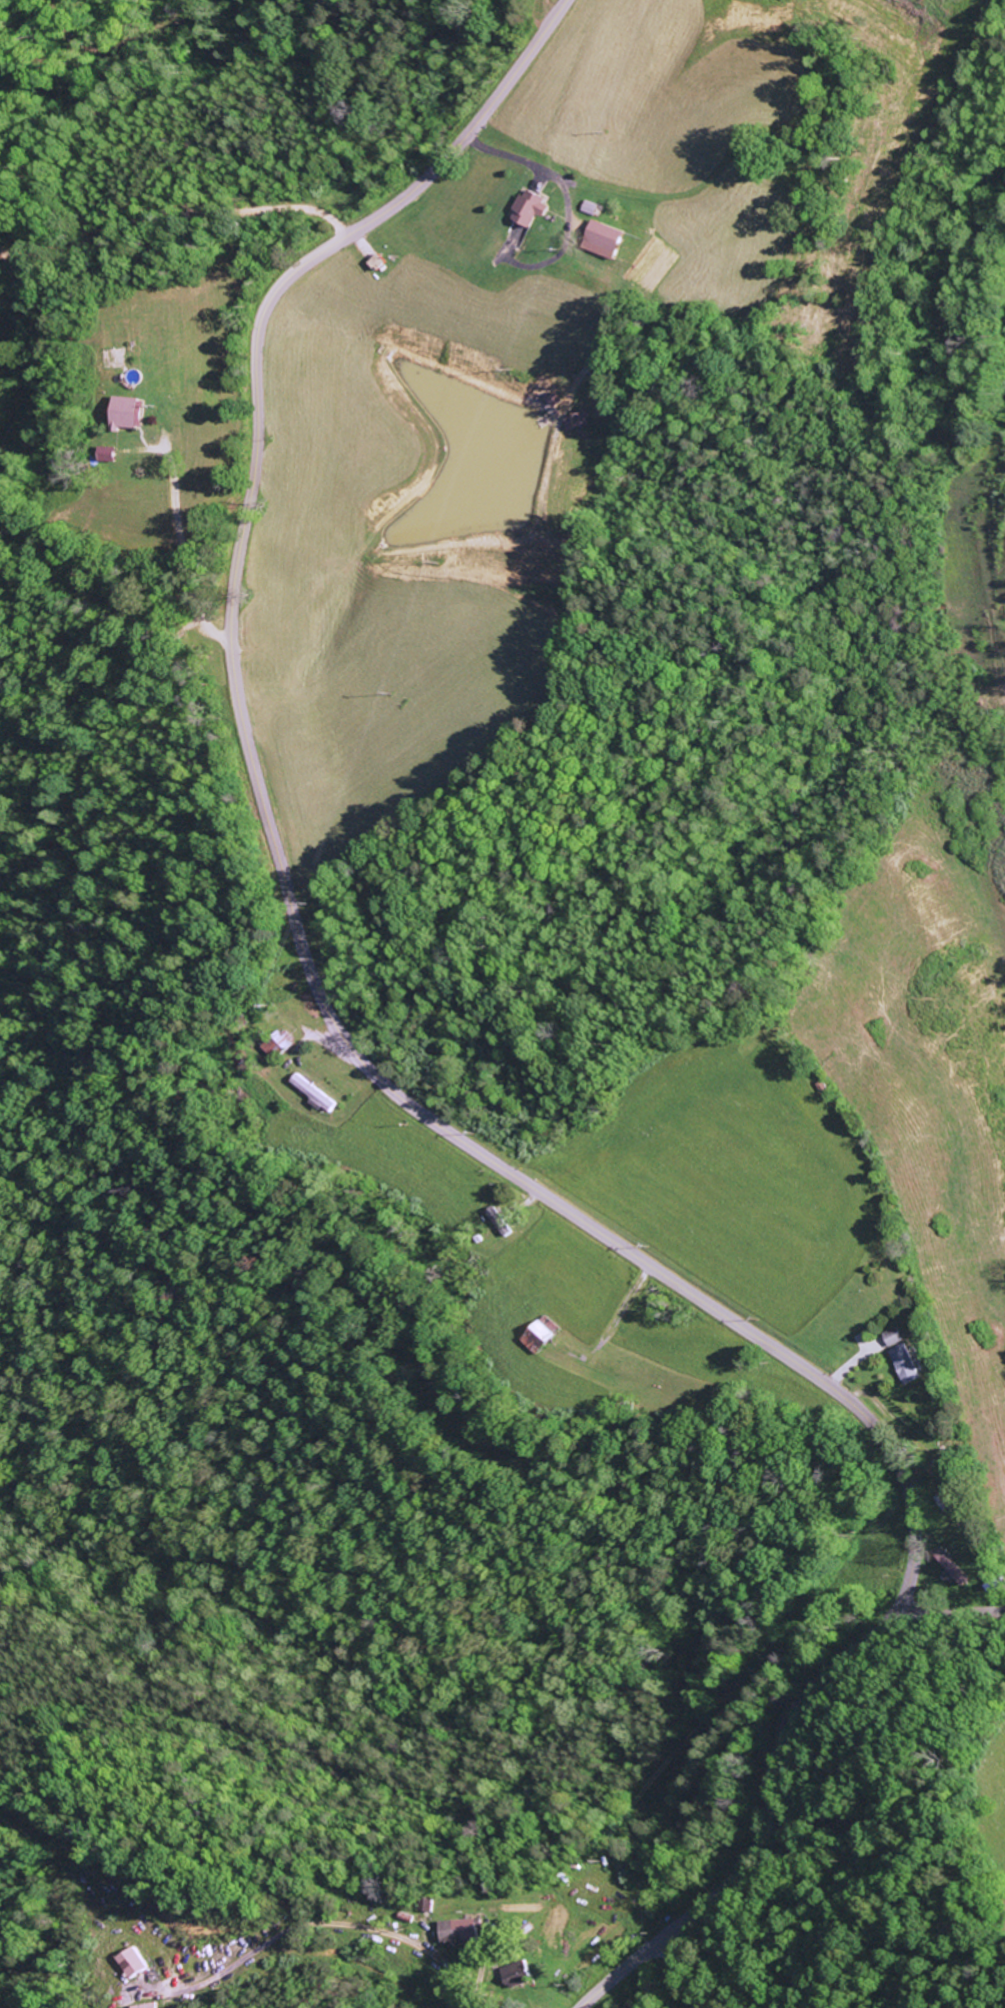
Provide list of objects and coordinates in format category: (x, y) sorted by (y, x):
building: (532, 211)
building: (606, 242)
building: (124, 412)
road: (180, 505)
building: (321, 1098)
road: (416, 1107)
building: (541, 1337)
building: (893, 1338)
building: (906, 1366)
building: (953, 1570)
road: (944, 1614)
building: (430, 1905)
road: (325, 1923)
building: (462, 1933)
building: (130, 1965)
road: (682, 1972)
building: (517, 1976)
building: (150, 2006)

